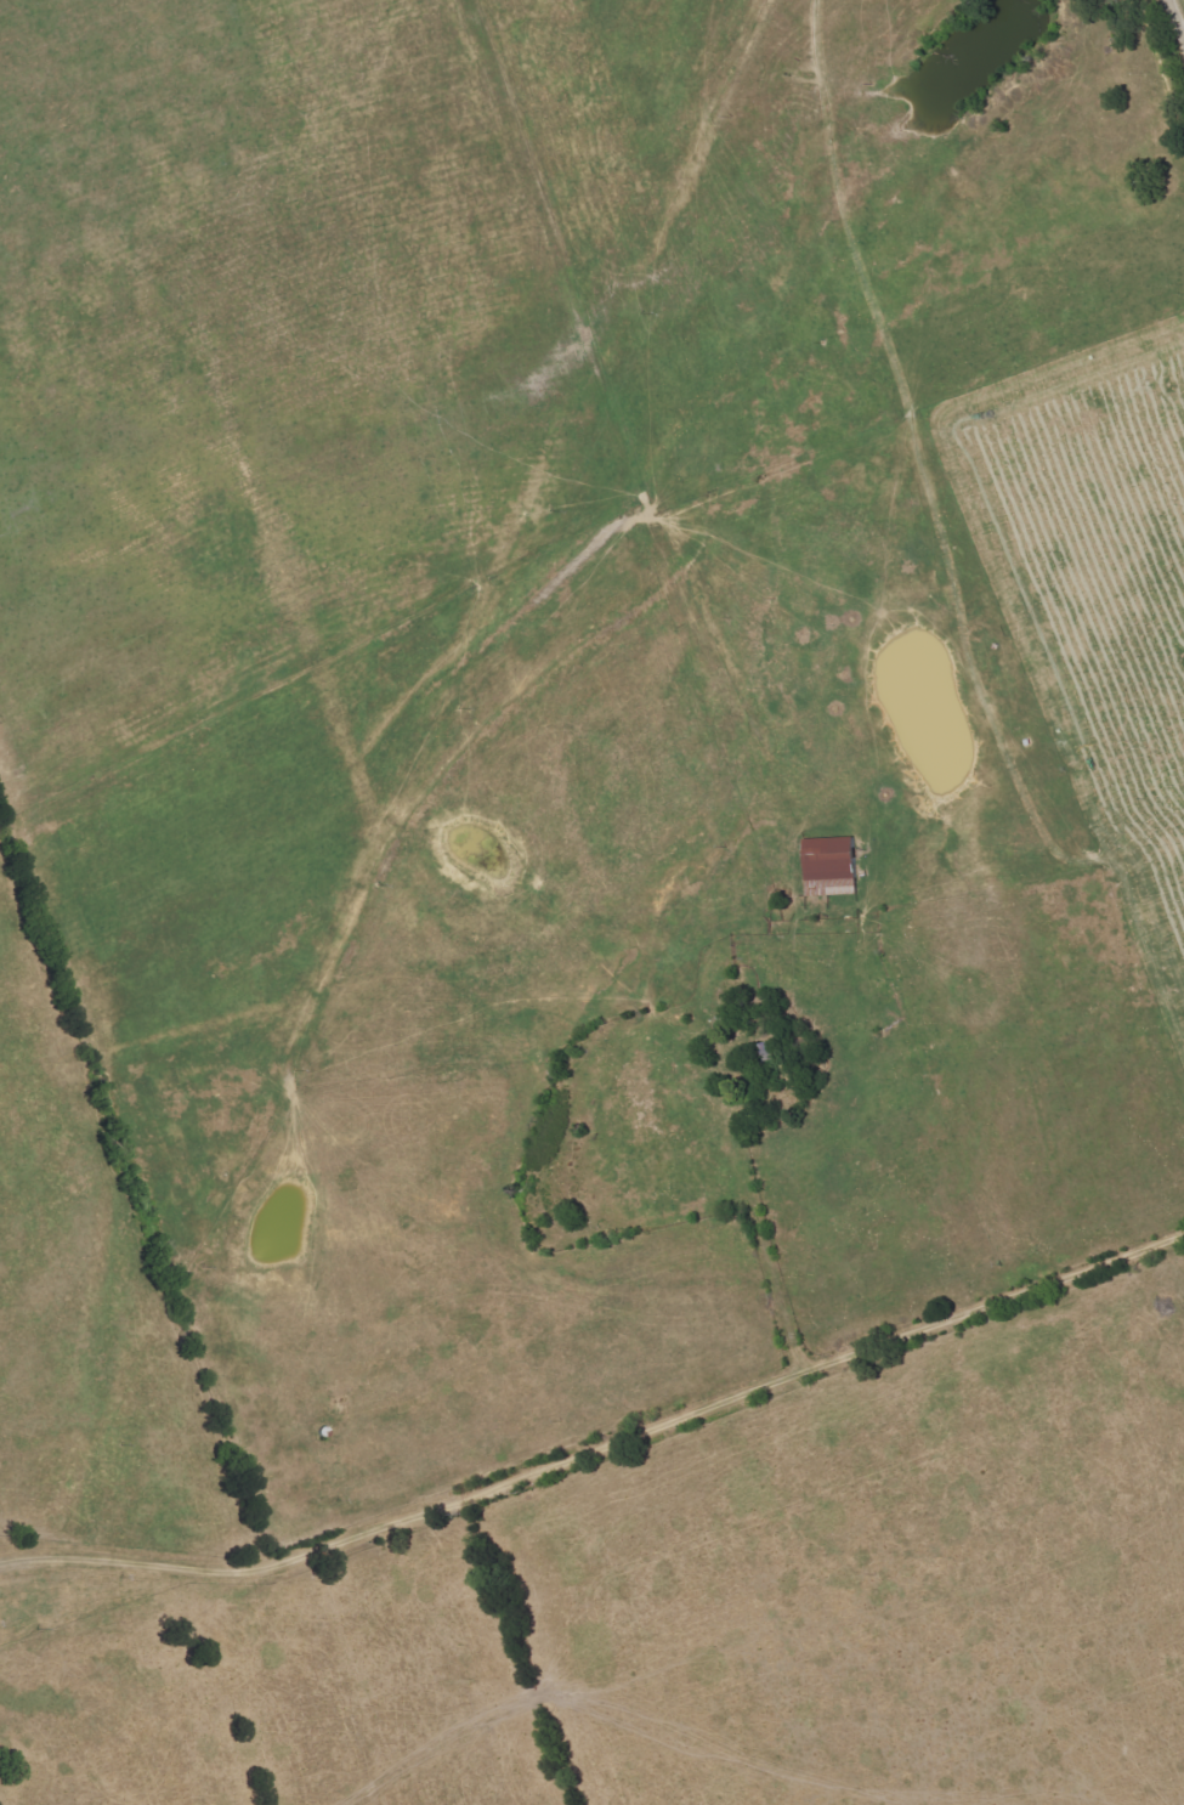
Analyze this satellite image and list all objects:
road: (1173, 26)
building: (829, 865)

